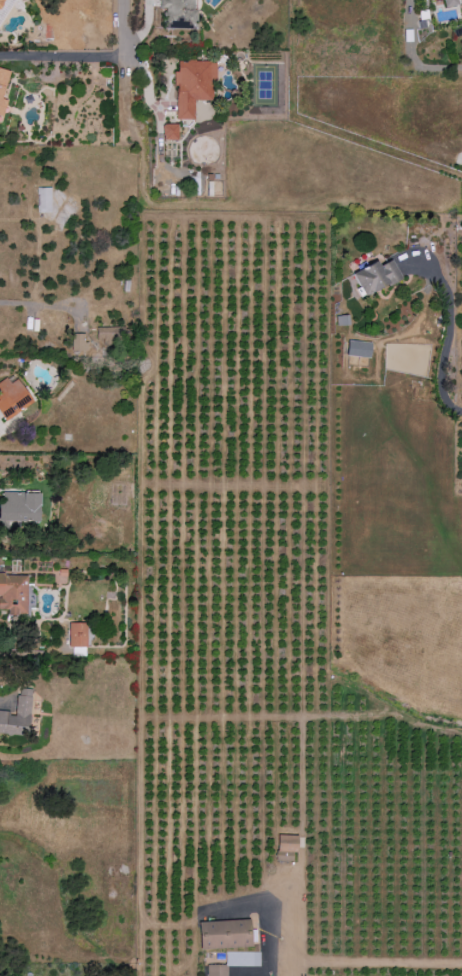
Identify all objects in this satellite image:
building: (450, 3)
building: (179, 14)
road: (89, 55)
building: (192, 85)
building: (3, 89)
road: (162, 124)
building: (170, 131)
road: (460, 160)
building: (44, 199)
building: (376, 276)
road: (32, 305)
building: (112, 332)
road: (447, 334)
building: (79, 341)
building: (358, 348)
building: (12, 397)
building: (21, 506)
building: (14, 594)
building: (77, 638)
building: (21, 709)
building: (5, 723)
building: (286, 847)
building: (224, 934)
road: (266, 947)
building: (242, 958)
building: (217, 970)

